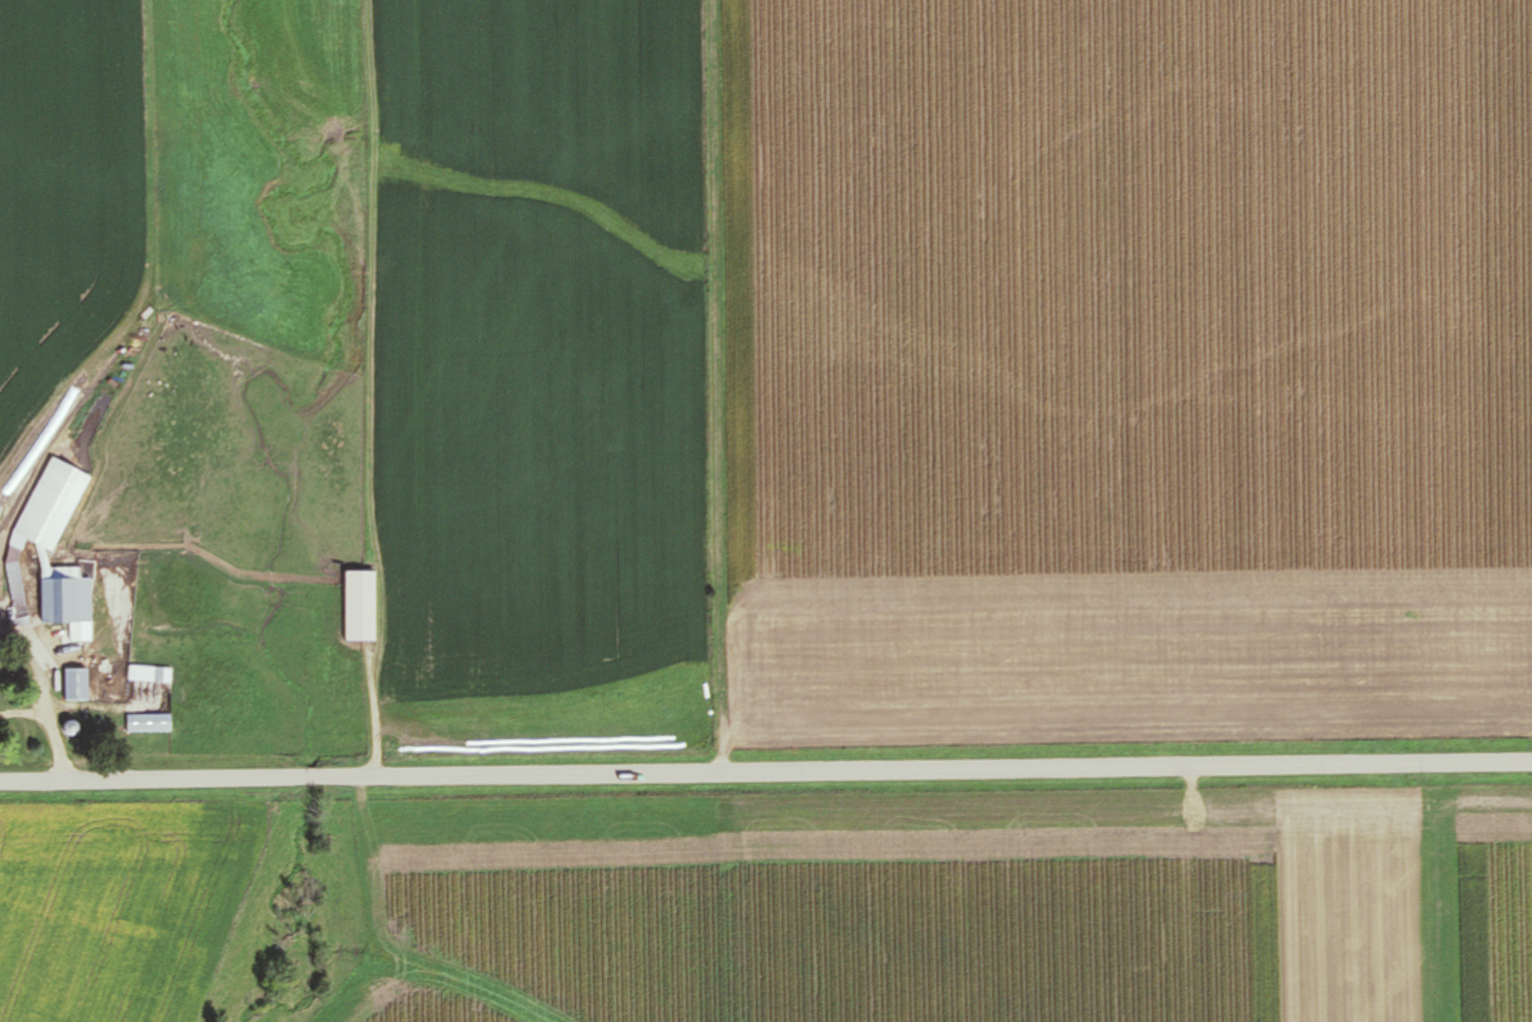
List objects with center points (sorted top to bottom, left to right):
building: (17, 591)
building: (66, 599)
building: (359, 605)
building: (150, 674)
building: (76, 685)
building: (148, 723)
road: (53, 725)
road: (766, 772)

